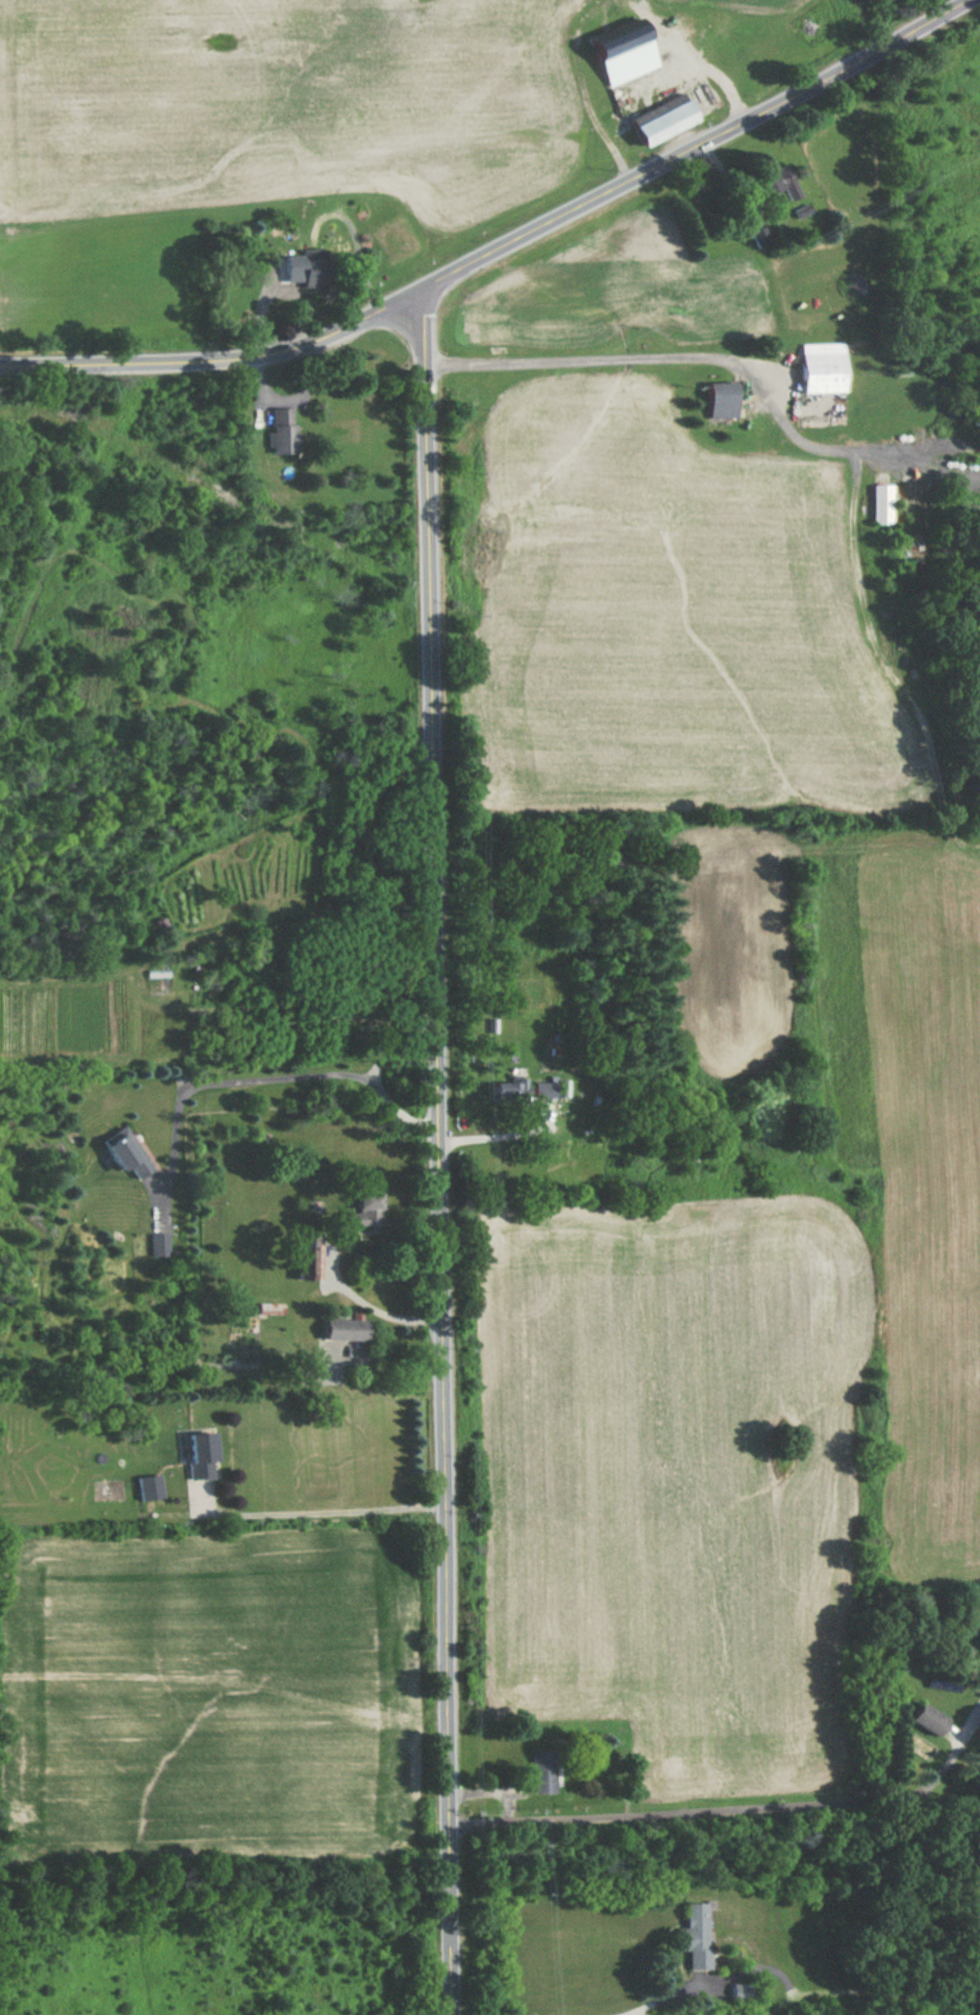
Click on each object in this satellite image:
building: (623, 51)
road: (695, 148)
building: (780, 193)
building: (758, 239)
building: (313, 273)
road: (216, 360)
road: (680, 361)
building: (823, 367)
building: (724, 399)
building: (282, 430)
building: (882, 504)
road: (270, 1080)
building: (506, 1090)
building: (543, 1091)
road: (494, 1132)
building: (126, 1152)
road: (438, 1153)
building: (364, 1211)
building: (305, 1266)
road: (371, 1303)
building: (345, 1330)
building: (202, 1455)
building: (149, 1487)
road: (317, 1512)
crop: (206, 1693)
building: (928, 1720)
building: (543, 1772)
road: (489, 1791)
road: (733, 1808)
building: (694, 1934)
road: (679, 1997)

